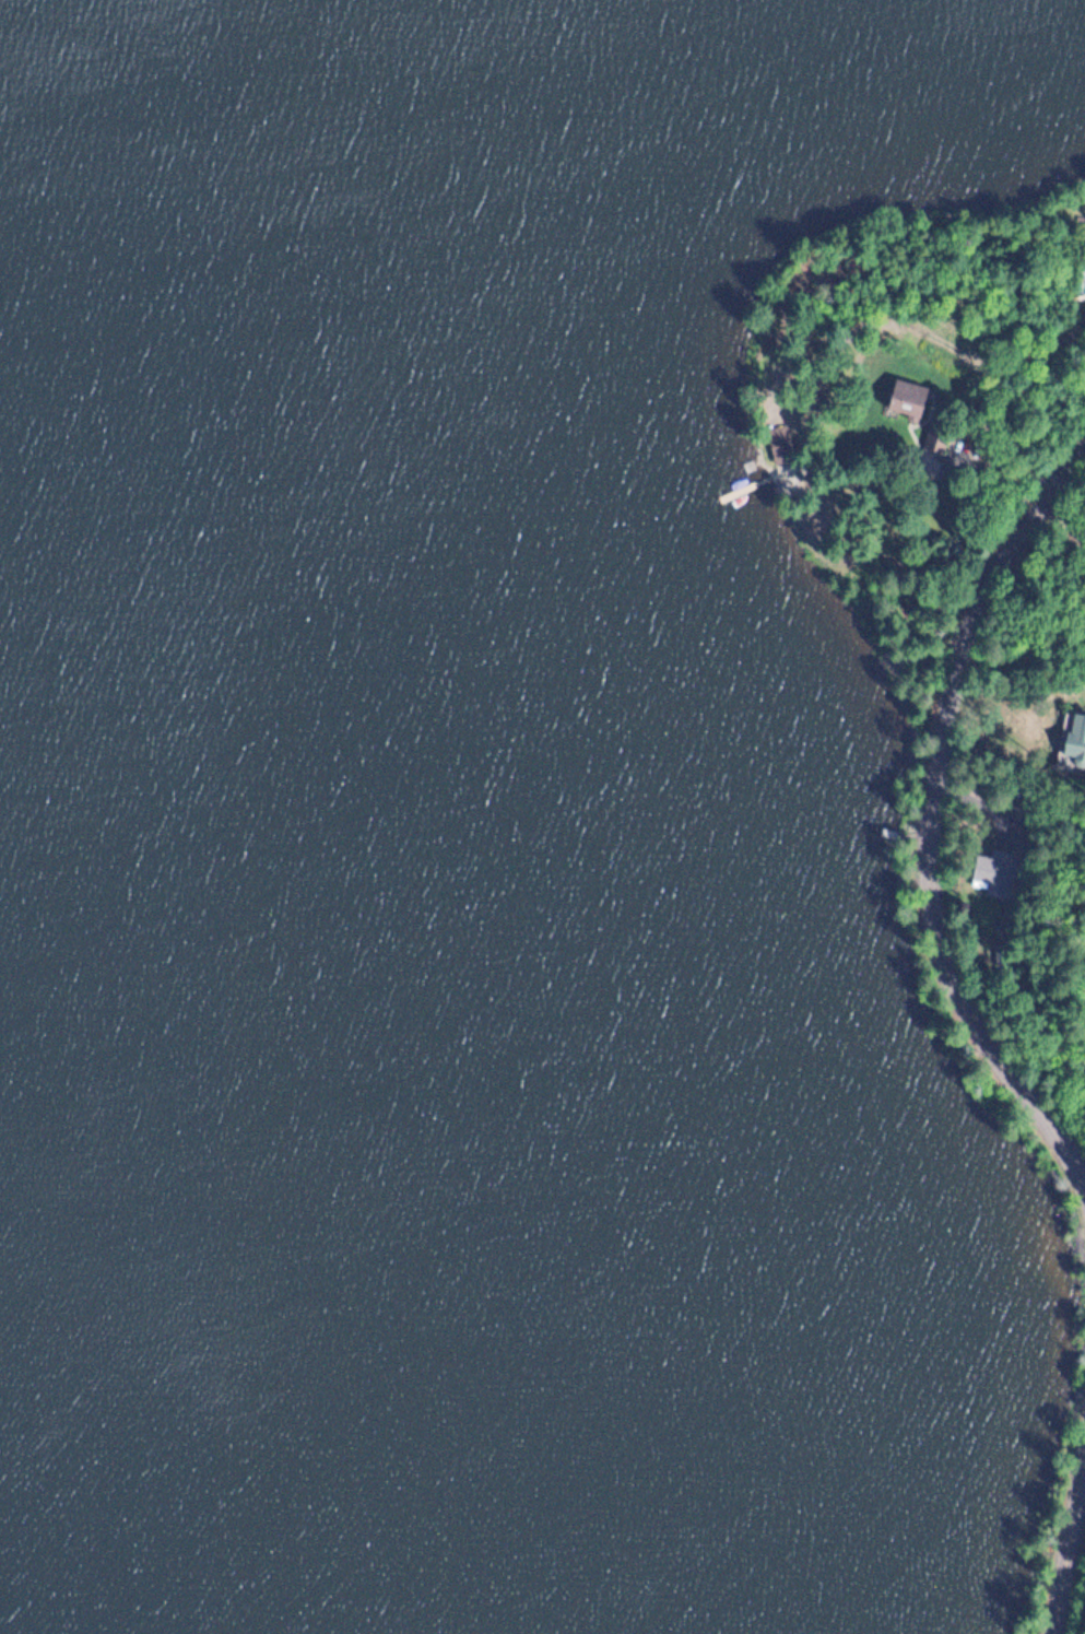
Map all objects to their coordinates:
building: (911, 398)
building: (1076, 736)
road: (925, 815)
building: (992, 869)
road: (1069, 1561)

